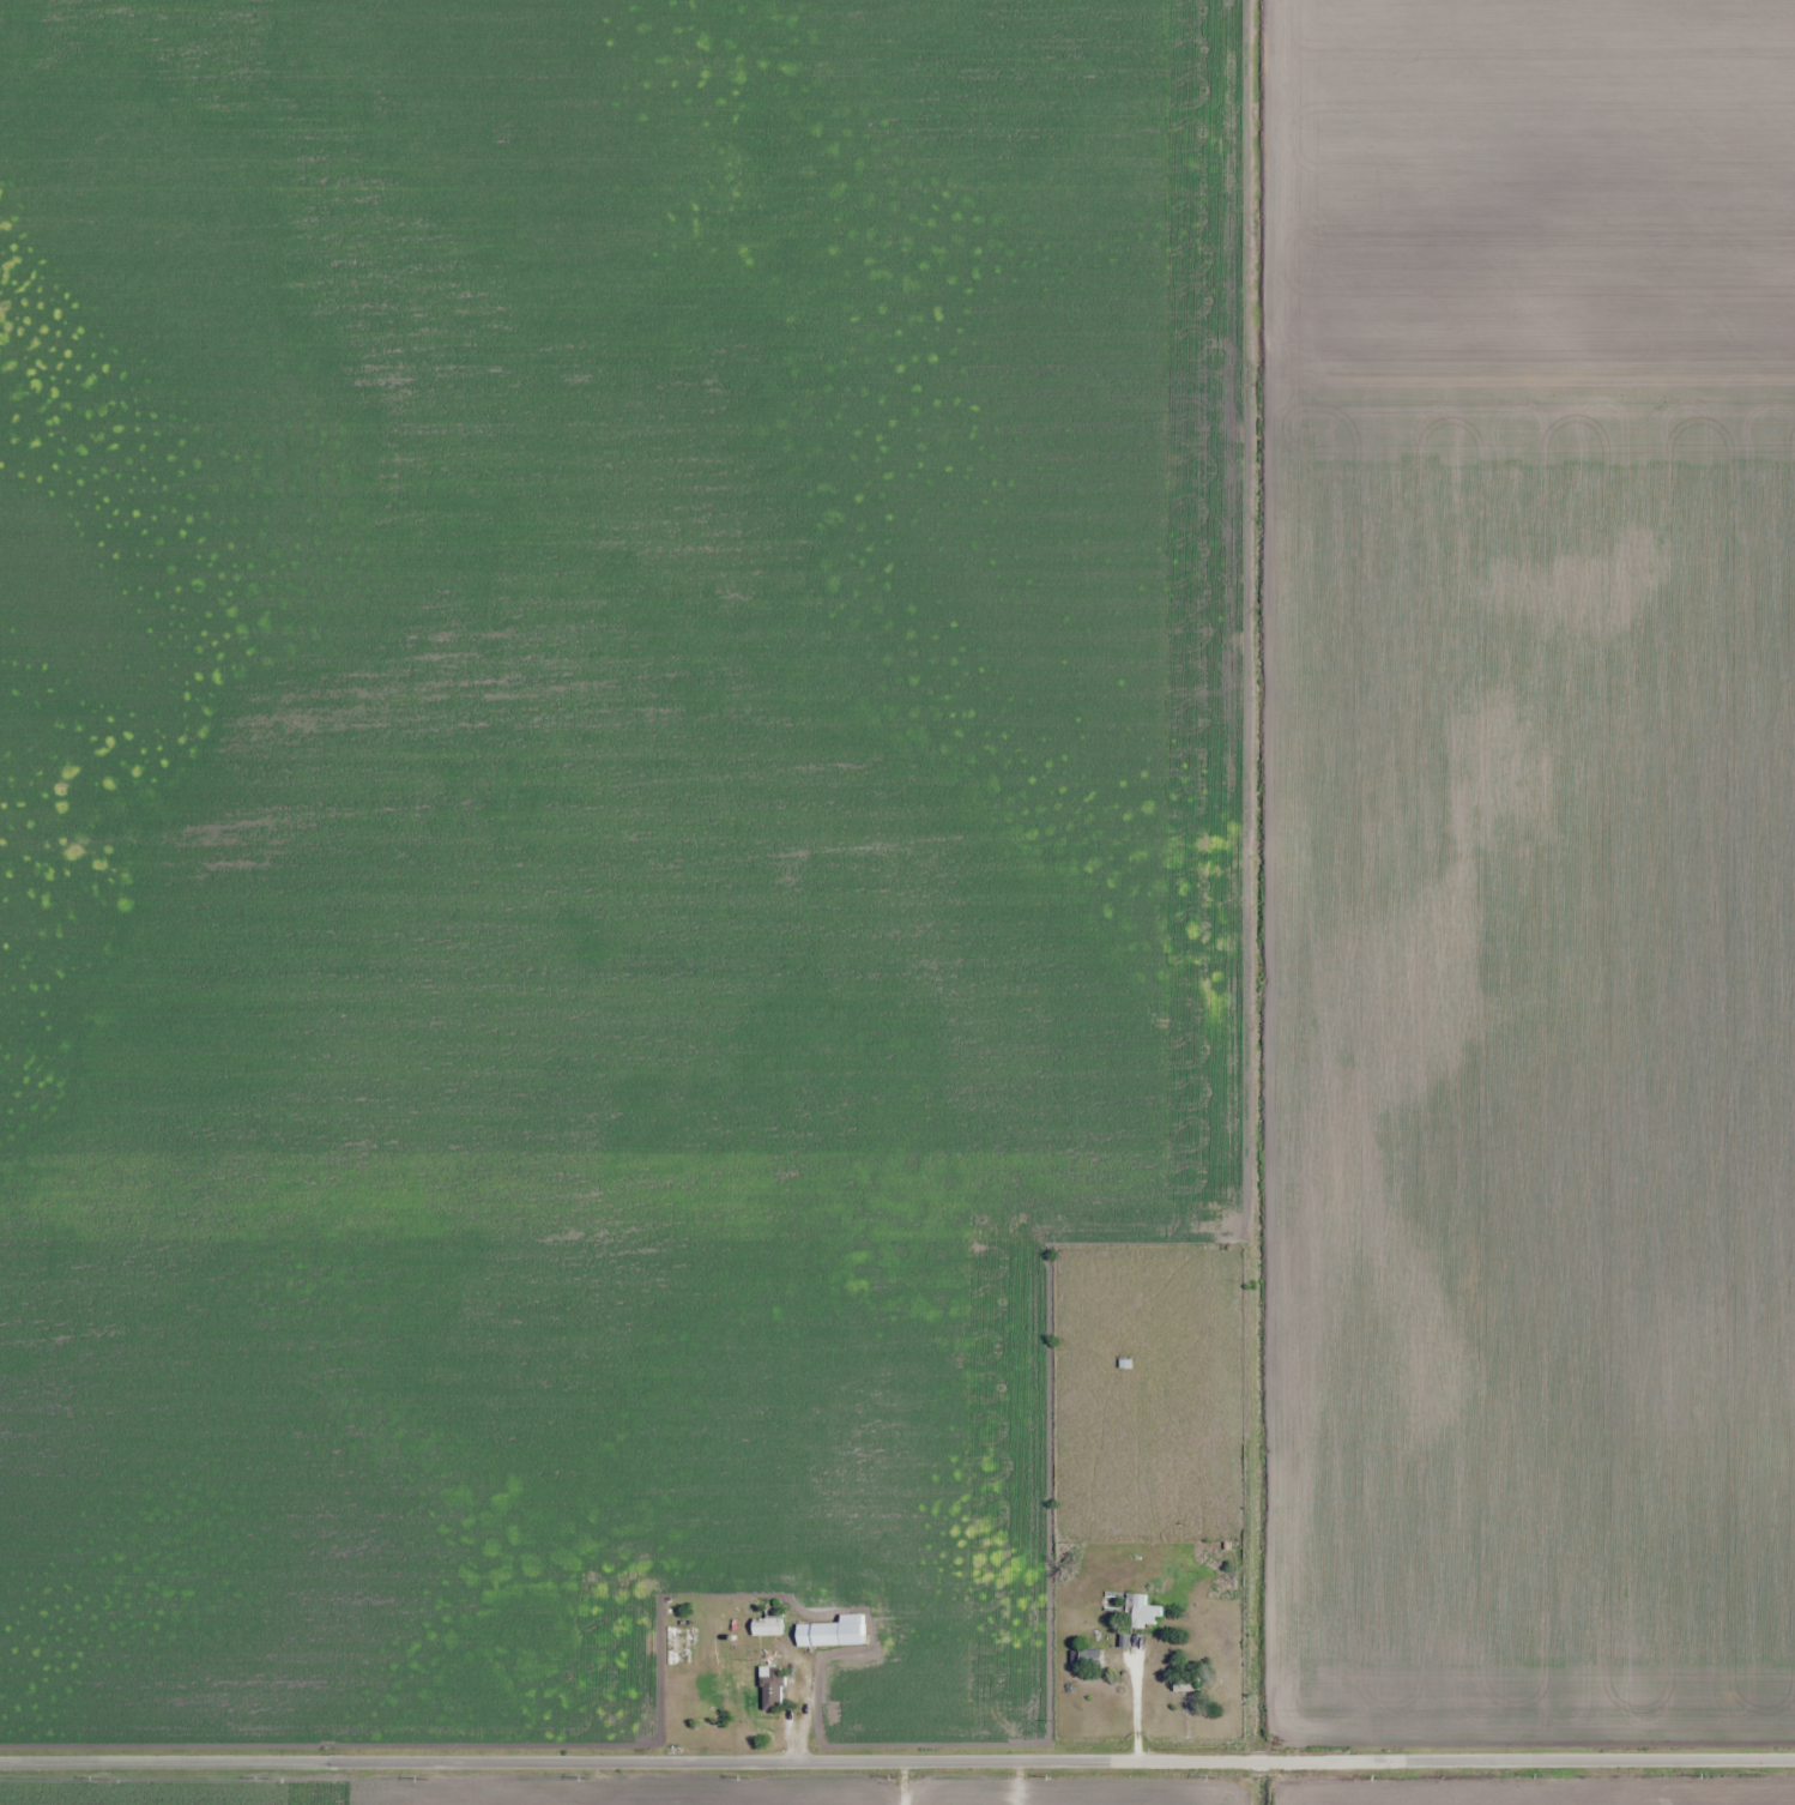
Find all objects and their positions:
airport: (1533, 191)
building: (634, 735)
building: (1141, 1611)
building: (772, 1628)
building: (838, 1632)
building: (681, 1646)
building: (1087, 1658)
building: (776, 1689)
road: (897, 1763)

